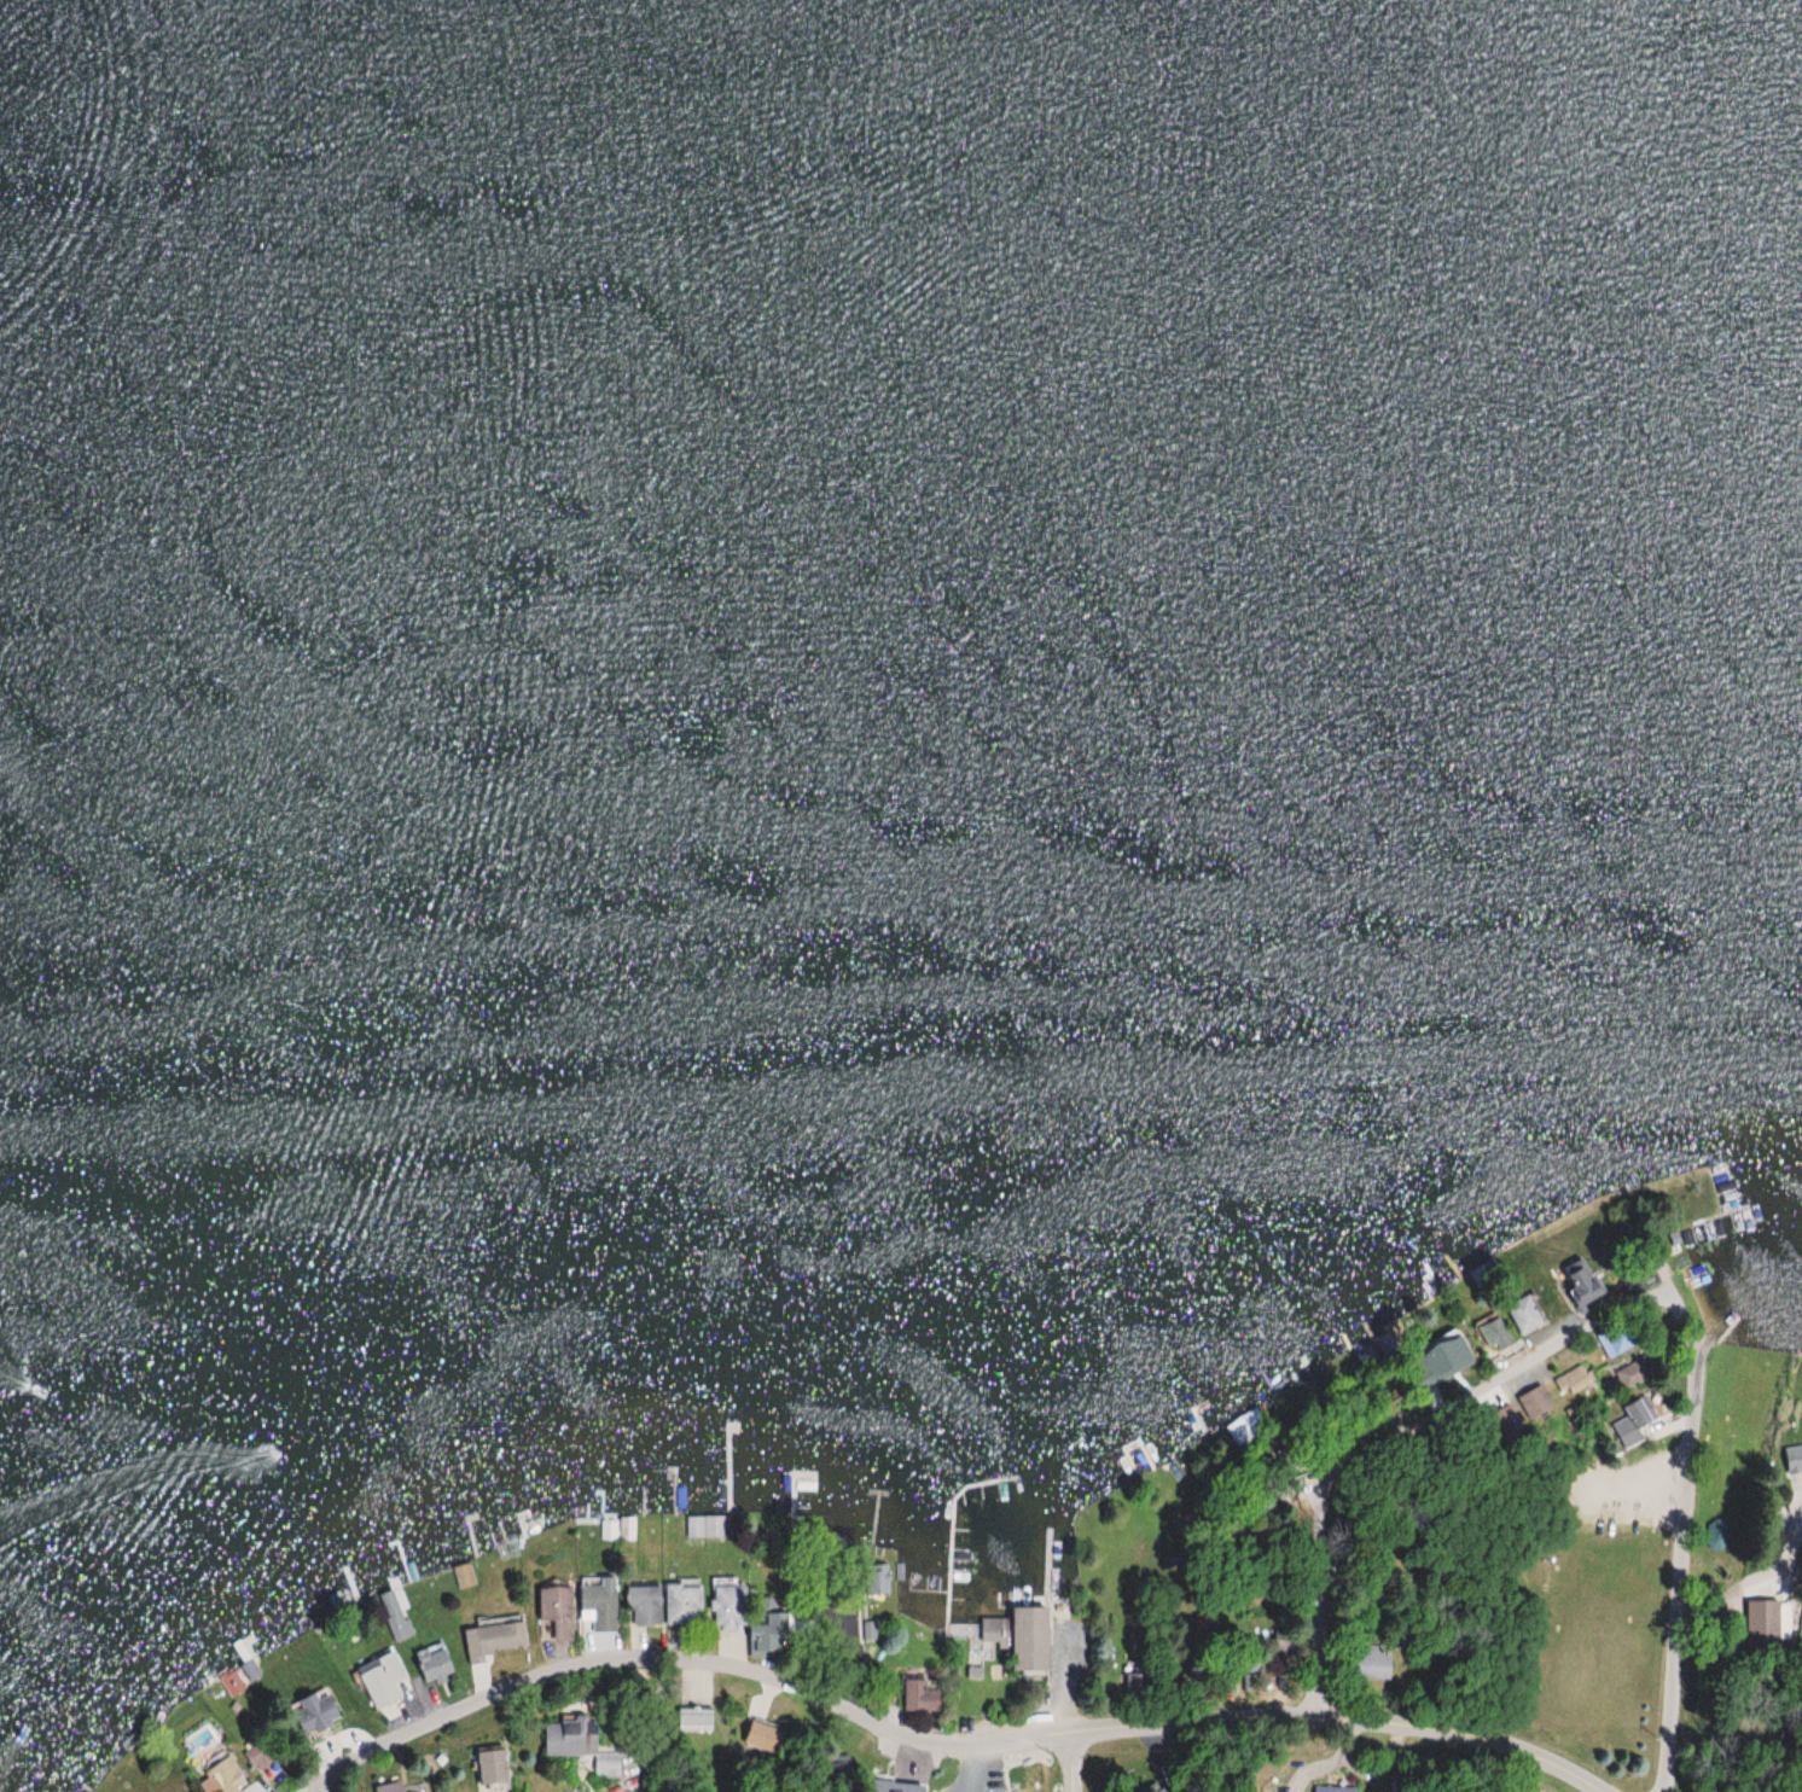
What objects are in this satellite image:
river: (901, 173)
building: (1581, 1290)
building: (1523, 1315)
building: (1493, 1336)
building: (1615, 1342)
road: (1703, 1344)
road: (1518, 1362)
building: (1629, 1375)
building: (1570, 1381)
building: (1534, 1403)
building: (1632, 1422)
building: (1239, 1432)
building: (1792, 1459)
parking lot: (1627, 1489)
building: (705, 1528)
road: (1680, 1547)
building: (876, 1579)
road: (1315, 1581)
park: (1614, 1593)
building: (598, 1605)
building: (681, 1605)
building: (643, 1606)
building: (727, 1606)
building: (554, 1613)
building: (394, 1616)
building: (1768, 1622)
building: (993, 1630)
building: (766, 1639)
building: (493, 1640)
building: (1027, 1640)
building: (1366, 1663)
building: (432, 1664)
building: (380, 1680)
building: (917, 1695)
building: (313, 1712)
building: (693, 1720)
building: (761, 1738)
building: (577, 1746)
road: (934, 1747)
building: (257, 1758)
road: (1071, 1762)
building: (489, 1768)
building: (226, 1776)
road: (315, 1785)
building: (877, 1786)
building: (386, 1788)
building: (1156, 1788)
building: (1335, 1788)
parking lot: (1541, 1791)

